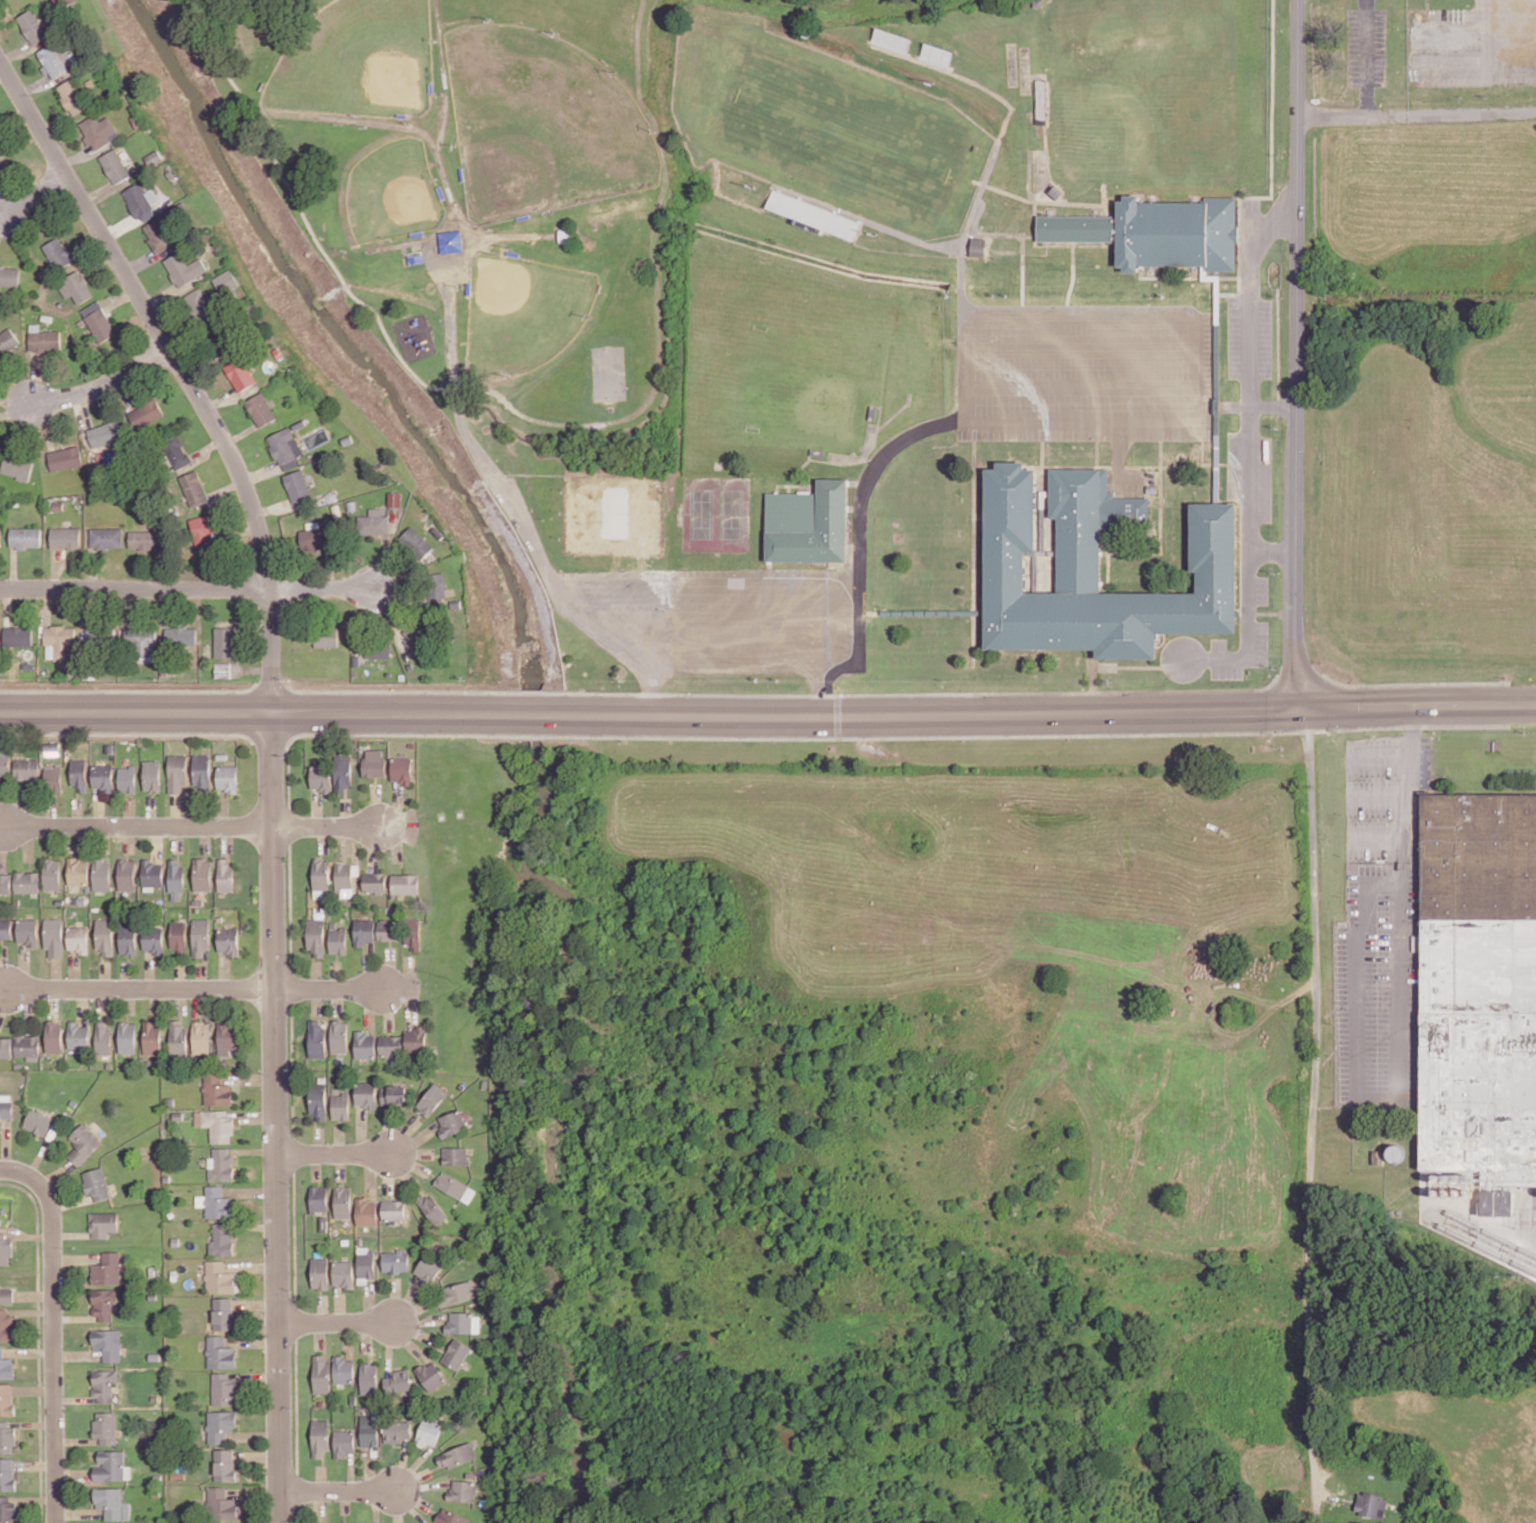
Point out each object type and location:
building: (62, 2)
building: (32, 26)
road: (1484, 33)
building: (936, 55)
road: (1365, 56)
building: (56, 60)
park: (362, 61)
road: (35, 83)
street lamp: (33, 95)
park: (1153, 95)
building: (72, 96)
street lamp: (1461, 96)
building: (1040, 101)
road: (1415, 110)
park: (544, 126)
building: (98, 130)
park: (845, 134)
building: (3, 146)
building: (153, 158)
building: (114, 166)
street lamp: (755, 185)
park: (378, 186)
road: (35, 194)
building: (141, 201)
road: (1, 211)
building: (813, 214)
building: (1157, 232)
street lamp: (877, 234)
building: (158, 235)
building: (978, 246)
building: (57, 253)
building: (184, 268)
building: (9, 276)
building: (226, 282)
building: (75, 287)
road: (1250, 290)
building: (200, 304)
park: (524, 314)
building: (98, 321)
park: (417, 331)
building: (43, 339)
building: (8, 341)
road: (1083, 347)
road: (1296, 353)
river: (373, 369)
parking lot: (1084, 371)
building: (240, 374)
road: (36, 377)
park: (807, 377)
road: (104, 385)
road: (1083, 387)
road: (16, 409)
building: (260, 409)
building: (146, 413)
road: (1192, 420)
building: (105, 433)
building: (349, 439)
road: (209, 446)
building: (285, 448)
building: (175, 453)
building: (65, 458)
building: (17, 467)
road: (261, 472)
road: (1251, 476)
road: (867, 479)
building: (297, 486)
building: (395, 495)
park: (613, 516)
park: (717, 518)
building: (373, 522)
building: (808, 523)
building: (203, 530)
building: (439, 531)
building: (0, 534)
building: (25, 537)
building: (65, 537)
building: (106, 537)
building: (144, 539)
building: (317, 539)
building: (416, 542)
building: (1095, 568)
road: (733, 579)
road: (135, 589)
road: (324, 589)
building: (435, 589)
road: (1250, 632)
building: (17, 635)
building: (180, 637)
building: (323, 638)
building: (58, 641)
building: (140, 641)
building: (224, 642)
road: (645, 645)
road: (824, 646)
building: (378, 649)
road: (256, 706)
road: (1054, 710)
road: (542, 711)
road: (128, 733)
road: (1025, 733)
road: (532, 734)
road: (292, 738)
road: (1380, 755)
road: (273, 756)
parking lot: (1425, 759)
building: (5, 761)
building: (374, 763)
building: (27, 769)
building: (401, 770)
building: (342, 772)
building: (177, 773)
building: (202, 773)
building: (79, 774)
flagpole: (1445, 774)
building: (151, 775)
building: (53, 777)
building: (103, 777)
building: (227, 778)
building: (321, 778)
building: (127, 779)
road: (1379, 797)
road: (376, 804)
road: (222, 806)
road: (316, 807)
road: (397, 807)
road: (51, 808)
road: (99, 808)
road: (175, 809)
road: (199, 809)
road: (77, 811)
road: (130, 811)
road: (150, 811)
road: (346, 812)
street lamp: (1343, 813)
road: (2, 823)
road: (2, 824)
road: (139, 825)
parking lot: (411, 825)
park: (457, 825)
road: (327, 826)
street lamp: (214, 836)
road: (178, 837)
road: (227, 837)
road: (128, 838)
road: (204, 838)
road: (324, 838)
road: (1377, 838)
road: (346, 839)
road: (52, 840)
road: (393, 840)
road: (28, 841)
road: (84, 841)
road: (157, 842)
road: (2, 847)
road: (373, 847)
street lamp: (1342, 854)
building: (78, 871)
building: (321, 872)
building: (152, 873)
building: (52, 874)
building: (126, 874)
building: (202, 874)
building: (101, 875)
building: (225, 876)
building: (346, 879)
building: (176, 880)
building: (26, 882)
building: (374, 882)
building: (5, 883)
building: (405, 884)
street lamp: (1342, 896)
street lamp: (1332, 926)
building: (5, 928)
building: (389, 929)
building: (365, 930)
building: (27, 931)
building: (413, 931)
building: (105, 936)
building: (200, 936)
building: (317, 936)
building: (54, 937)
building: (179, 937)
building: (128, 938)
building: (78, 939)
building: (153, 939)
building: (339, 939)
building: (228, 941)
street lamp: (1333, 956)
road: (2, 964)
road: (370, 966)
road: (388, 967)
road: (73, 969)
road: (150, 969)
road: (224, 970)
road: (56, 973)
road: (181, 973)
road: (316, 973)
road: (336, 973)
road: (105, 974)
road: (127, 974)
road: (202, 975)
street lamp: (92, 976)
road: (404, 977)
street lamp: (422, 980)
road: (4, 984)
building: (1480, 984)
road: (4, 986)
road: (328, 987)
street lamp: (1333, 987)
road: (142, 988)
road: (4, 989)
road: (4, 993)
road: (407, 997)
road: (129, 999)
road: (180, 999)
road: (223, 999)
road: (341, 999)
road: (4, 1000)
road: (102, 1000)
road: (199, 1000)
road: (318, 1000)
road: (155, 1001)
road: (83, 1004)
road: (28, 1008)
road: (369, 1008)
road: (388, 1008)
street lamp: (1333, 1022)
building: (228, 1034)
building: (339, 1035)
building: (54, 1036)
building: (77, 1036)
building: (127, 1036)
building: (152, 1036)
building: (201, 1036)
building: (179, 1037)
building: (417, 1037)
building: (103, 1038)
building: (317, 1038)
building: (365, 1043)
building: (391, 1044)
road: (1400, 1045)
building: (5, 1047)
building: (27, 1047)
street lamp: (1334, 1054)
building: (150, 1061)
building: (397, 1061)
building: (83, 1062)
road: (249, 1078)
building: (484, 1082)
road: (238, 1085)
building: (462, 1085)
street lamp: (1334, 1086)
building: (217, 1088)
building: (366, 1092)
building: (394, 1092)
building: (318, 1098)
building: (433, 1098)
building: (171, 1100)
building: (341, 1105)
building: (6, 1107)
road: (253, 1112)
building: (178, 1114)
road: (1311, 1115)
building: (38, 1120)
building: (0, 1122)
building: (452, 1122)
building: (216, 1124)
road: (360, 1128)
road: (385, 1128)
road: (403, 1135)
road: (318, 1139)
road: (339, 1139)
road: (415, 1140)
building: (84, 1141)
road: (6, 1146)
road: (254, 1149)
road: (41, 1150)
road: (334, 1152)
road: (412, 1152)
building: (456, 1154)
road: (410, 1161)
building: (222, 1164)
road: (317, 1165)
road: (341, 1165)
street lamp: (411, 1169)
road: (387, 1171)
road: (405, 1172)
road: (57, 1173)
road: (371, 1174)
building: (167, 1177)
building: (96, 1182)
building: (451, 1183)
road: (251, 1190)
building: (319, 1197)
building: (343, 1200)
road: (71, 1201)
building: (218, 1201)
building: (432, 1207)
building: (394, 1208)
building: (4, 1209)
building: (367, 1211)
building: (171, 1213)
building: (103, 1222)
building: (324, 1222)
road: (257, 1225)
railway: (1488, 1232)
road: (31, 1234)
road: (72, 1234)
building: (222, 1238)
building: (176, 1240)
building: (360, 1240)
street lamp: (64, 1246)
railway: (1485, 1247)
building: (5, 1248)
road: (76, 1257)
building: (396, 1260)
building: (367, 1263)
road: (252, 1265)
building: (108, 1267)
building: (429, 1267)
building: (321, 1272)
building: (344, 1272)
building: (174, 1274)
building: (219, 1276)
building: (457, 1291)
building: (6, 1294)
road: (34, 1294)
building: (153, 1295)
road: (395, 1298)
road: (408, 1299)
building: (104, 1302)
road: (339, 1302)
road: (369, 1302)
road: (257, 1303)
road: (322, 1308)
road: (414, 1308)
road: (31, 1310)
building: (223, 1312)
road: (75, 1317)
road: (421, 1319)
road: (337, 1321)
building: (461, 1321)
building: (6, 1324)
street lamp: (420, 1326)
road: (53, 1329)
road: (414, 1329)
road: (366, 1335)
road: (319, 1336)
road: (348, 1338)
road: (39, 1340)
road: (253, 1340)
building: (109, 1342)
road: (410, 1342)
flagpole: (87, 1345)
road: (297, 1346)
road: (389, 1347)
road: (30, 1351)
building: (220, 1352)
building: (457, 1352)
road: (78, 1354)
building: (155, 1355)
road: (16, 1358)
building: (6, 1365)
building: (344, 1369)
building: (322, 1373)
building: (431, 1374)
road: (257, 1375)
building: (370, 1377)
building: (399, 1380)
street lamp: (43, 1381)
building: (105, 1383)
building: (224, 1387)
road: (34, 1389)
building: (354, 1397)
road: (18, 1398)
road: (75, 1398)
building: (6, 1399)
building: (321, 1402)
building: (475, 1408)
building: (376, 1409)
road: (34, 1423)
building: (221, 1424)
building: (106, 1426)
road: (239, 1427)
building: (370, 1428)
road: (19, 1429)
building: (398, 1429)
building: (429, 1431)
road: (253, 1435)
building: (7, 1436)
building: (320, 1438)
road: (77, 1439)
building: (344, 1441)
road: (258, 1454)
building: (458, 1454)
road: (402, 1463)
road: (34, 1464)
building: (225, 1464)
building: (112, 1465)
road: (413, 1466)
road: (351, 1471)
road: (370, 1472)
building: (7, 1473)
road: (19, 1473)
road: (74, 1473)
building: (158, 1476)
road: (322, 1477)
road: (414, 1479)
road: (424, 1484)
building: (463, 1489)
road: (339, 1490)
building: (156, 1492)
road: (255, 1492)
street lamp: (423, 1494)
road: (34, 1498)
road: (414, 1498)
building: (110, 1500)
road: (241, 1500)
road: (346, 1500)
road: (320, 1501)
building: (222, 1502)
building: (1371, 1504)
road: (376, 1505)
road: (398, 1506)
road: (411, 1506)
building: (7, 1509)
road: (80, 1511)
building: (452, 1516)
street lamp: (67, 1520)
building: (326, 1522)
building: (343, 1522)

